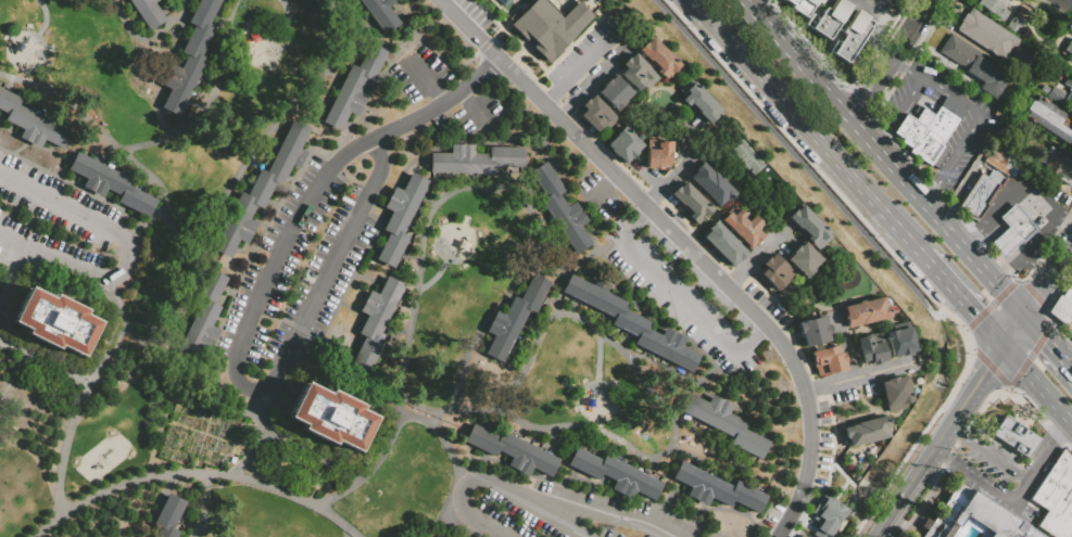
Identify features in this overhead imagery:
road: (1069, 1)
building: (803, 5)
building: (995, 7)
building: (148, 12)
parking lot: (474, 12)
building: (380, 13)
building: (831, 18)
road: (918, 22)
building: (1016, 25)
building: (548, 26)
road: (166, 27)
building: (986, 34)
building: (850, 36)
road: (570, 44)
road: (526, 46)
building: (1068, 47)
road: (898, 50)
building: (189, 56)
parking lot: (592, 59)
building: (660, 59)
road: (534, 60)
road: (798, 61)
road: (512, 62)
road: (580, 64)
building: (974, 65)
road: (909, 66)
building: (1024, 72)
parking lot: (419, 73)
building: (638, 73)
road: (217, 75)
road: (596, 80)
road: (426, 82)
building: (354, 86)
building: (1069, 86)
road: (874, 89)
building: (614, 93)
building: (1055, 94)
road: (907, 100)
road: (66, 101)
building: (698, 102)
road: (471, 104)
parking lot: (475, 111)
road: (421, 113)
building: (596, 114)
road: (981, 118)
building: (1050, 119)
building: (31, 123)
road: (807, 128)
building: (930, 131)
road: (863, 133)
road: (269, 136)
road: (883, 136)
road: (157, 140)
building: (623, 144)
road: (380, 151)
road: (317, 153)
building: (658, 154)
park: (746, 158)
building: (475, 159)
building: (999, 161)
road: (798, 162)
building: (1057, 166)
road: (895, 168)
road: (677, 169)
road: (658, 181)
road: (71, 183)
building: (111, 183)
building: (711, 183)
road: (603, 187)
building: (261, 189)
road: (490, 189)
road: (932, 192)
parking lot: (593, 194)
building: (980, 194)
road: (655, 197)
road: (1037, 200)
building: (691, 202)
road: (1001, 203)
road: (926, 204)
building: (559, 209)
building: (400, 217)
road: (1065, 217)
building: (1018, 222)
gas station: (1018, 222)
parking lot: (61, 226)
building: (809, 227)
building: (741, 228)
road: (949, 229)
road: (975, 232)
road: (1042, 234)
road: (1006, 238)
building: (1006, 241)
building: (723, 243)
road: (686, 244)
road: (128, 251)
road: (1064, 254)
building: (803, 259)
road: (581, 260)
road: (754, 261)
road: (1035, 268)
road: (11, 269)
road: (1010, 269)
road: (1063, 270)
building: (774, 271)
road: (938, 272)
road: (993, 276)
parking lot: (292, 279)
road: (65, 280)
road: (556, 289)
road: (1041, 290)
parking lot: (681, 291)
road: (1007, 291)
traffic signals: (1039, 293)
road: (117, 297)
road: (681, 302)
parking lot: (765, 302)
building: (1063, 309)
building: (865, 311)
traffic signals: (978, 314)
road: (979, 315)
building: (515, 317)
road: (1046, 317)
building: (201, 319)
building: (376, 320)
building: (56, 323)
building: (632, 323)
road: (960, 328)
road: (1014, 328)
road: (964, 330)
road: (1049, 330)
building: (814, 331)
road: (1045, 336)
traffic signals: (1047, 338)
building: (900, 342)
building: (871, 348)
road: (971, 348)
building: (1071, 348)
road: (981, 357)
building: (828, 360)
road: (968, 360)
road: (1068, 363)
road: (45, 366)
traffic signals: (986, 369)
road: (1018, 375)
road: (860, 376)
road: (12, 378)
road: (1036, 381)
road: (253, 388)
parking lot: (854, 393)
building: (895, 393)
road: (861, 397)
road: (961, 405)
parking lot: (822, 412)
road: (248, 415)
road: (856, 415)
building: (329, 417)
road: (411, 418)
road: (1071, 421)
road: (672, 422)
building: (724, 423)
road: (72, 425)
road: (1063, 429)
building: (867, 431)
road: (955, 432)
road: (256, 434)
road: (211, 435)
building: (1016, 436)
road: (201, 447)
building: (513, 450)
road: (908, 455)
road: (939, 455)
road: (995, 459)
building: (232, 460)
road: (1043, 460)
road: (831, 466)
parking lot: (821, 470)
road: (213, 474)
building: (614, 474)
road: (849, 481)
road: (493, 482)
road: (981, 482)
road: (591, 483)
building: (716, 488)
road: (1021, 493)
building: (1056, 497)
road: (896, 502)
road: (444, 506)
road: (156, 507)
road: (206, 507)
road: (723, 509)
parking lot: (557, 511)
road: (601, 511)
building: (167, 516)
building: (828, 516)
building: (971, 516)
road: (761, 519)
parking lot: (768, 521)
road: (461, 525)
road: (348, 533)
building: (1030, 533)
building: (798, 536)
building: (803, 536)
building: (1071, 536)

